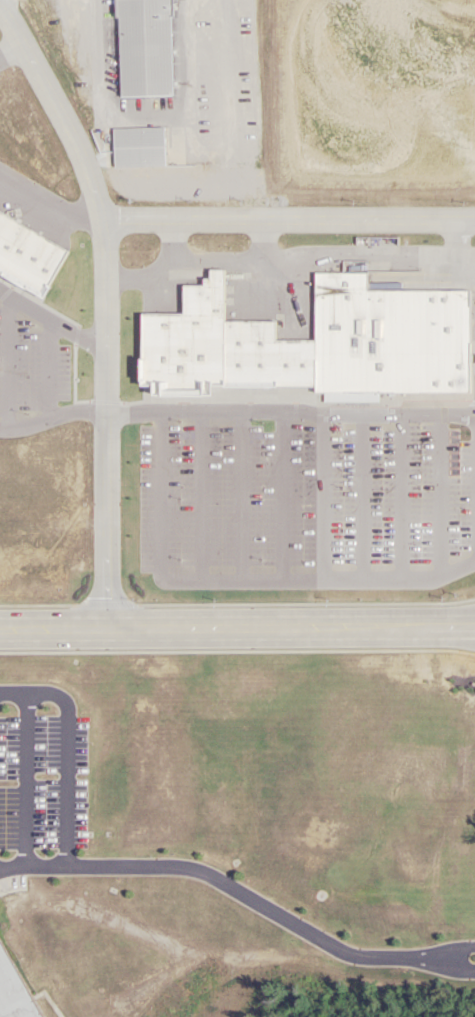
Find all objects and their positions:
building: (148, 51)
building: (142, 149)
road: (287, 219)
building: (379, 223)
building: (457, 224)
building: (419, 225)
building: (127, 268)
building: (372, 288)
building: (305, 290)
building: (453, 293)
building: (182, 297)
road: (103, 307)
building: (179, 330)
building: (382, 338)
building: (251, 345)
building: (134, 358)
building: (184, 376)
building: (297, 383)
building: (372, 398)
building: (122, 400)
road: (291, 412)
building: (298, 422)
building: (376, 442)
building: (258, 444)
building: (129, 447)
building: (181, 462)
building: (307, 463)
building: (253, 481)
building: (128, 489)
building: (370, 489)
building: (470, 506)
building: (302, 511)
building: (181, 514)
building: (254, 522)
building: (179, 550)
building: (304, 551)
building: (419, 559)
building: (251, 561)
building: (125, 569)
building: (297, 590)
building: (179, 592)
building: (249, 604)
building: (127, 608)
road: (237, 627)
road: (63, 752)
building: (474, 768)
road: (224, 881)
road: (454, 950)
road: (454, 964)

